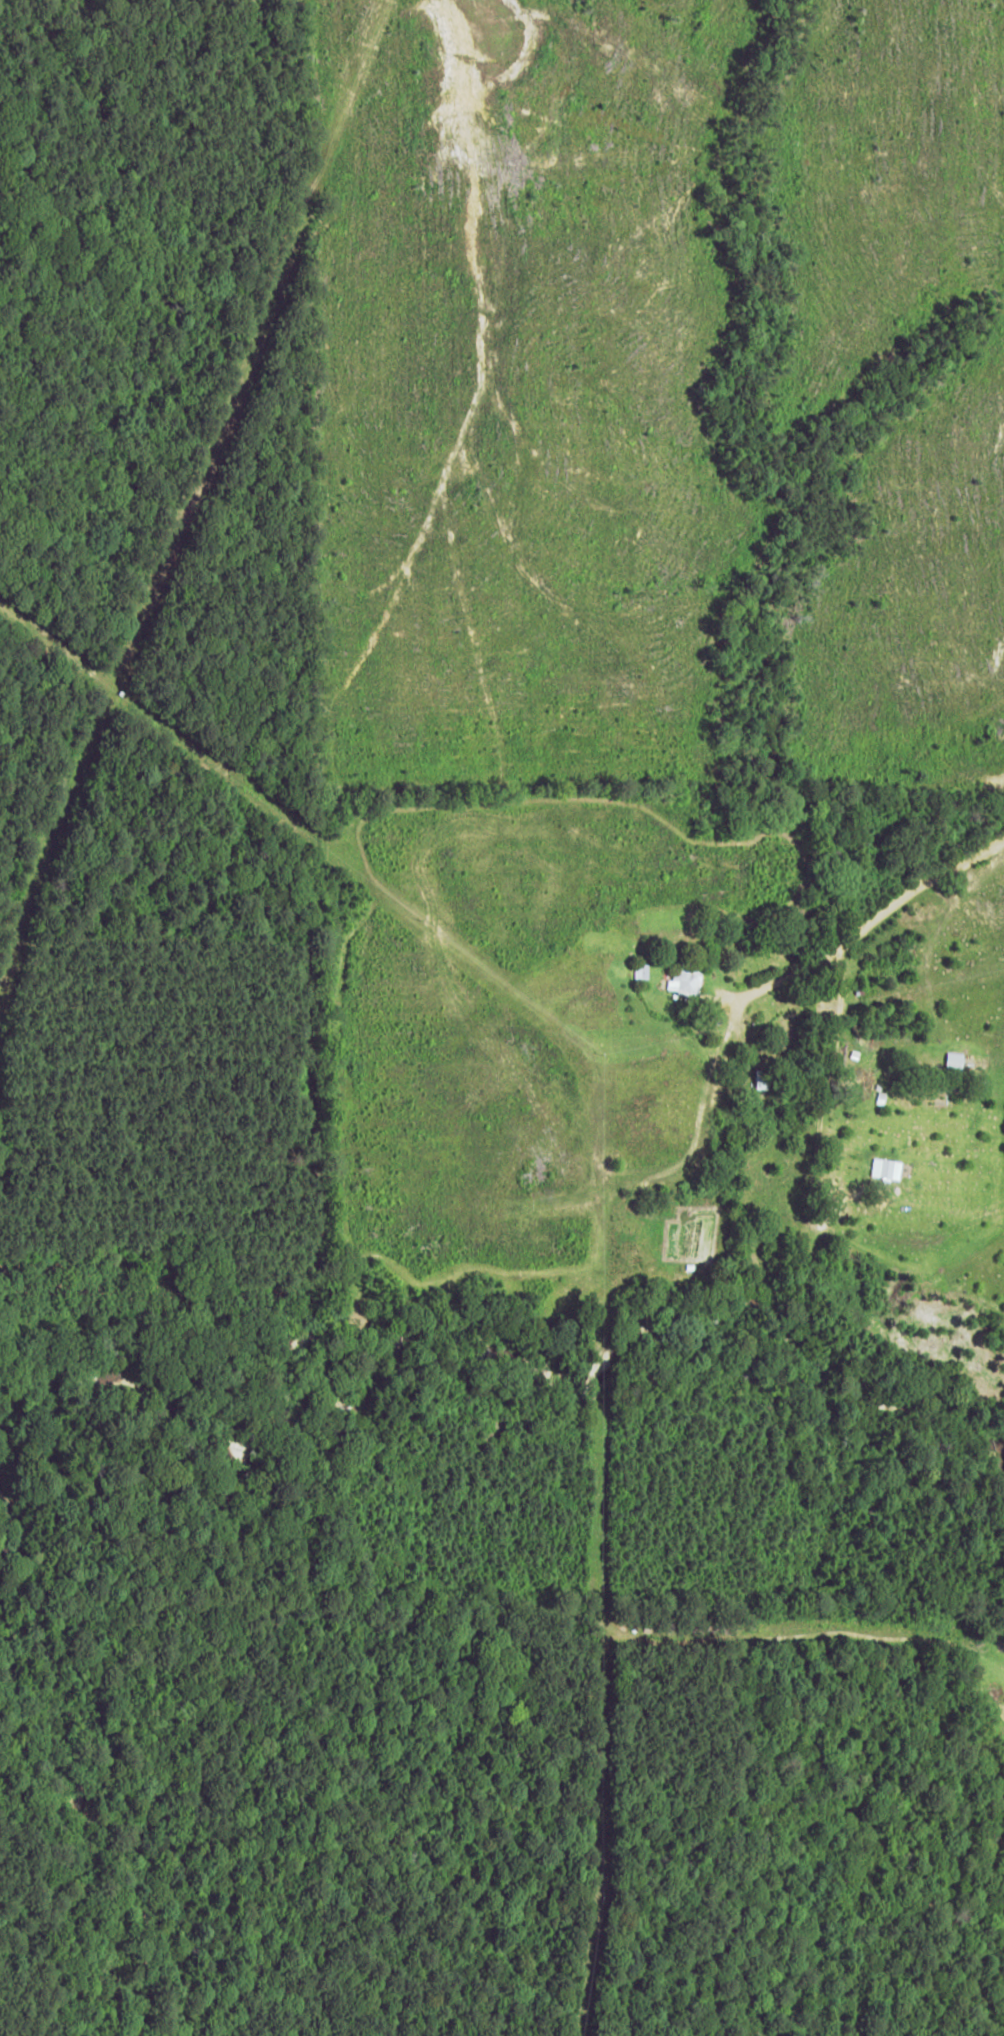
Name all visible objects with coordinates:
road: (866, 955)
building: (764, 1082)
building: (886, 1168)

